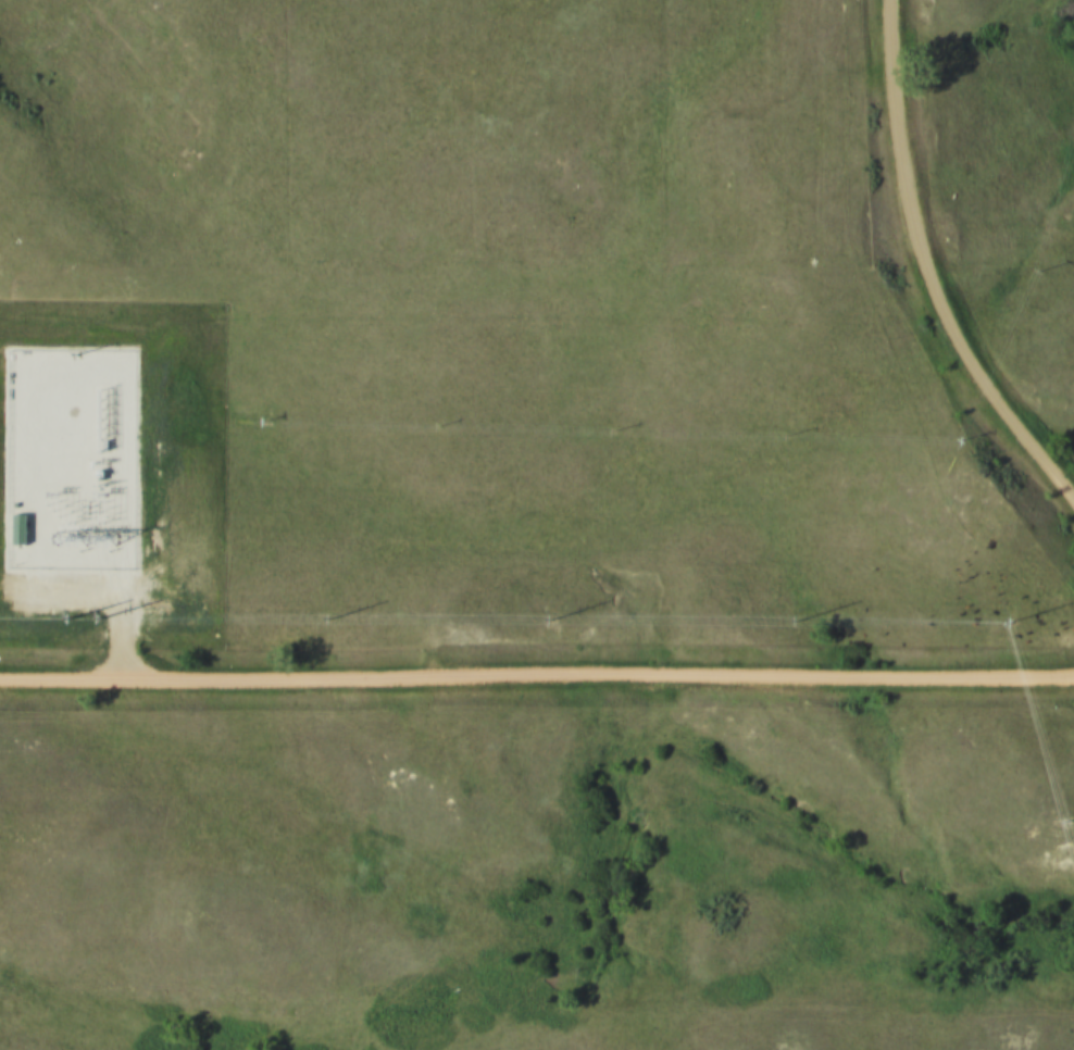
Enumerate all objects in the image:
road: (934, 261)
power substation: (64, 460)
road: (116, 624)
road: (536, 679)

